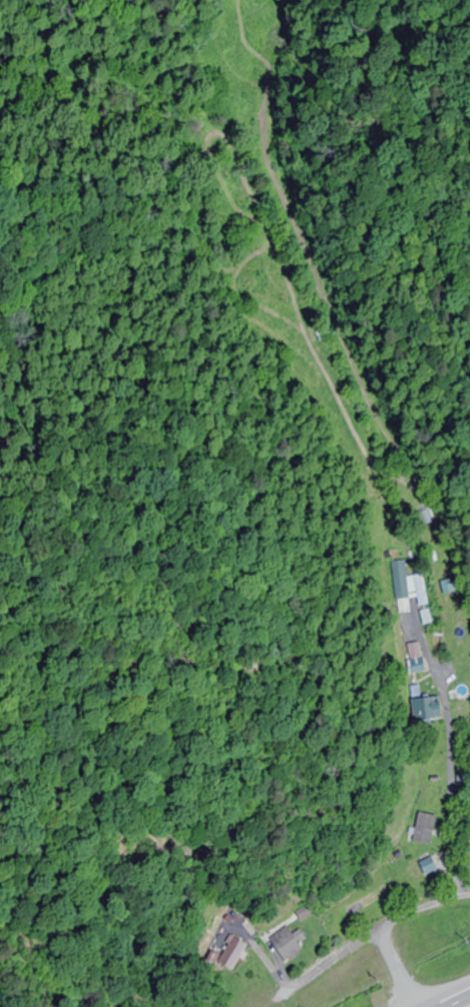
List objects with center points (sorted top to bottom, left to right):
building: (398, 576)
building: (424, 600)
building: (431, 711)
building: (428, 829)
building: (423, 869)
building: (290, 944)
building: (237, 954)
road: (401, 968)
road: (466, 1005)

